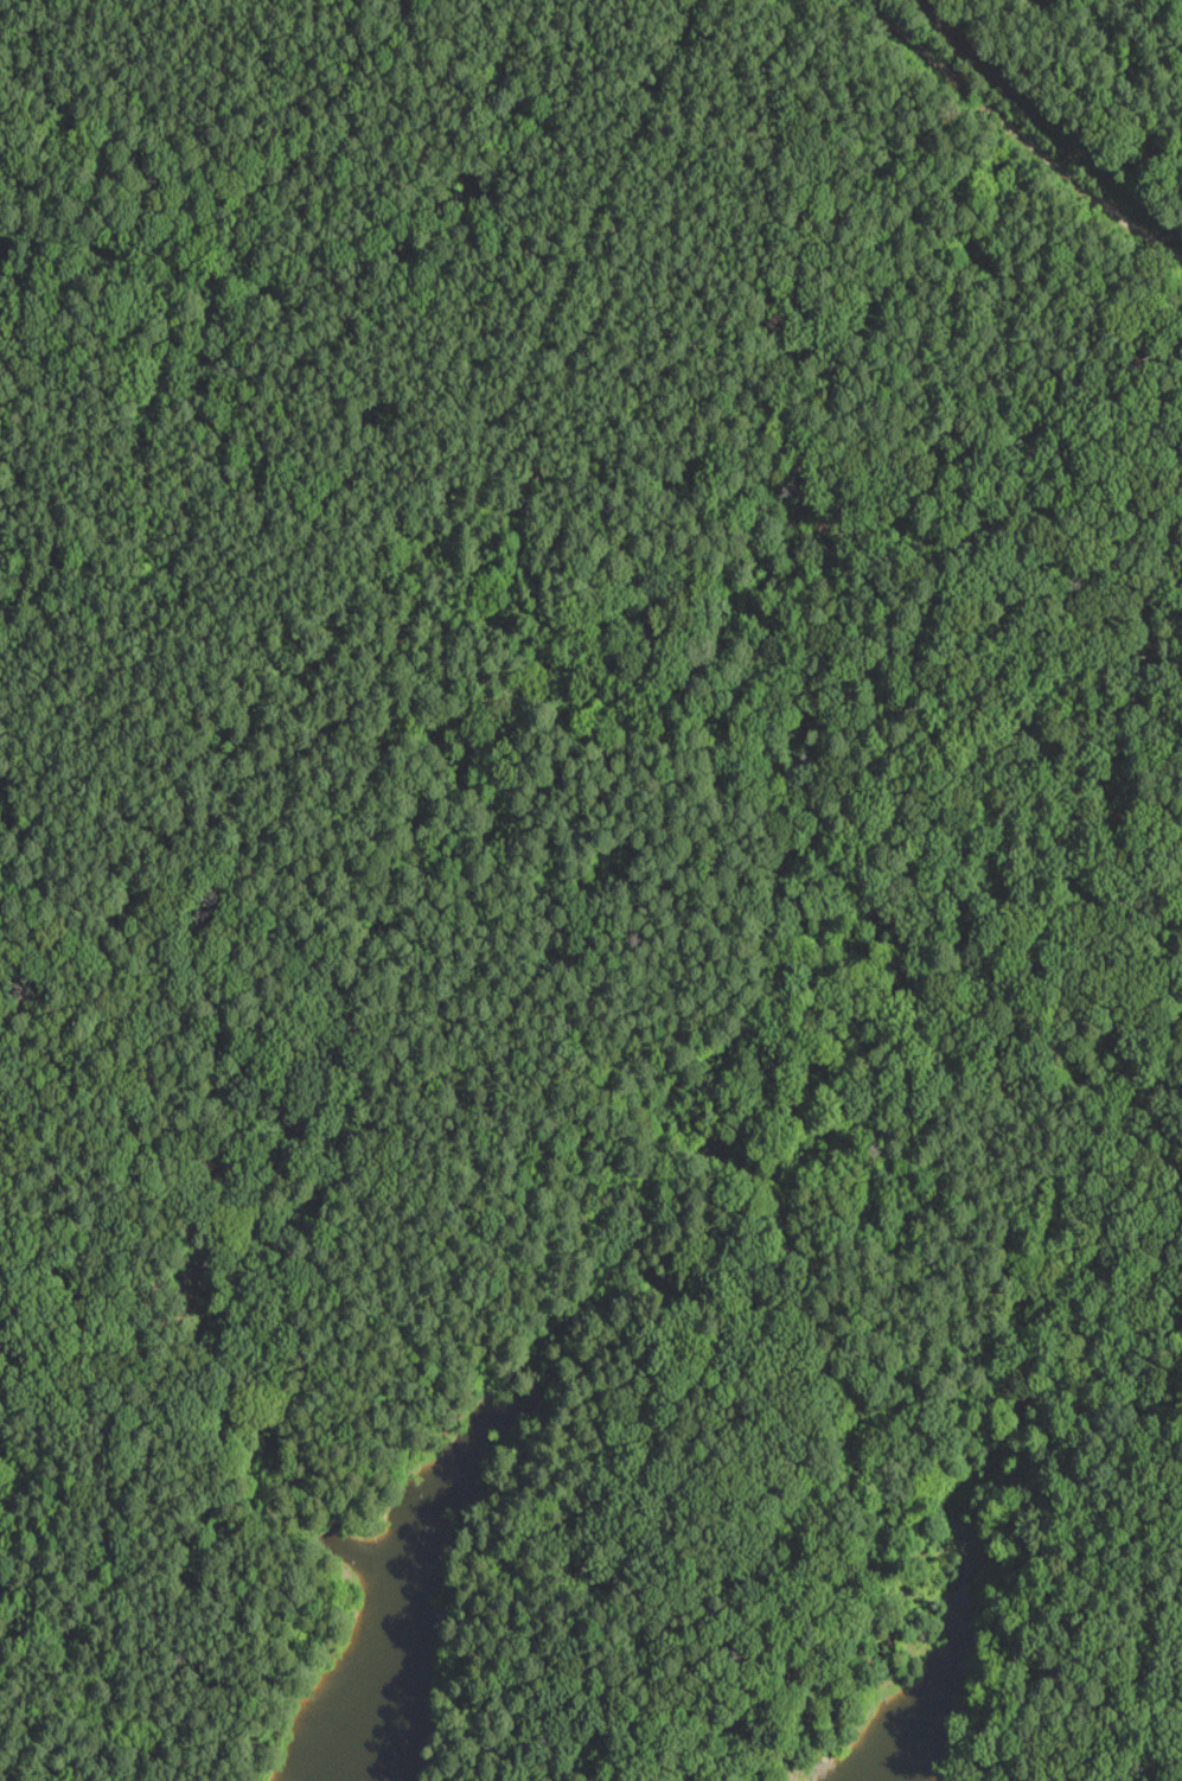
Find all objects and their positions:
road: (1021, 135)
park: (592, 876)

